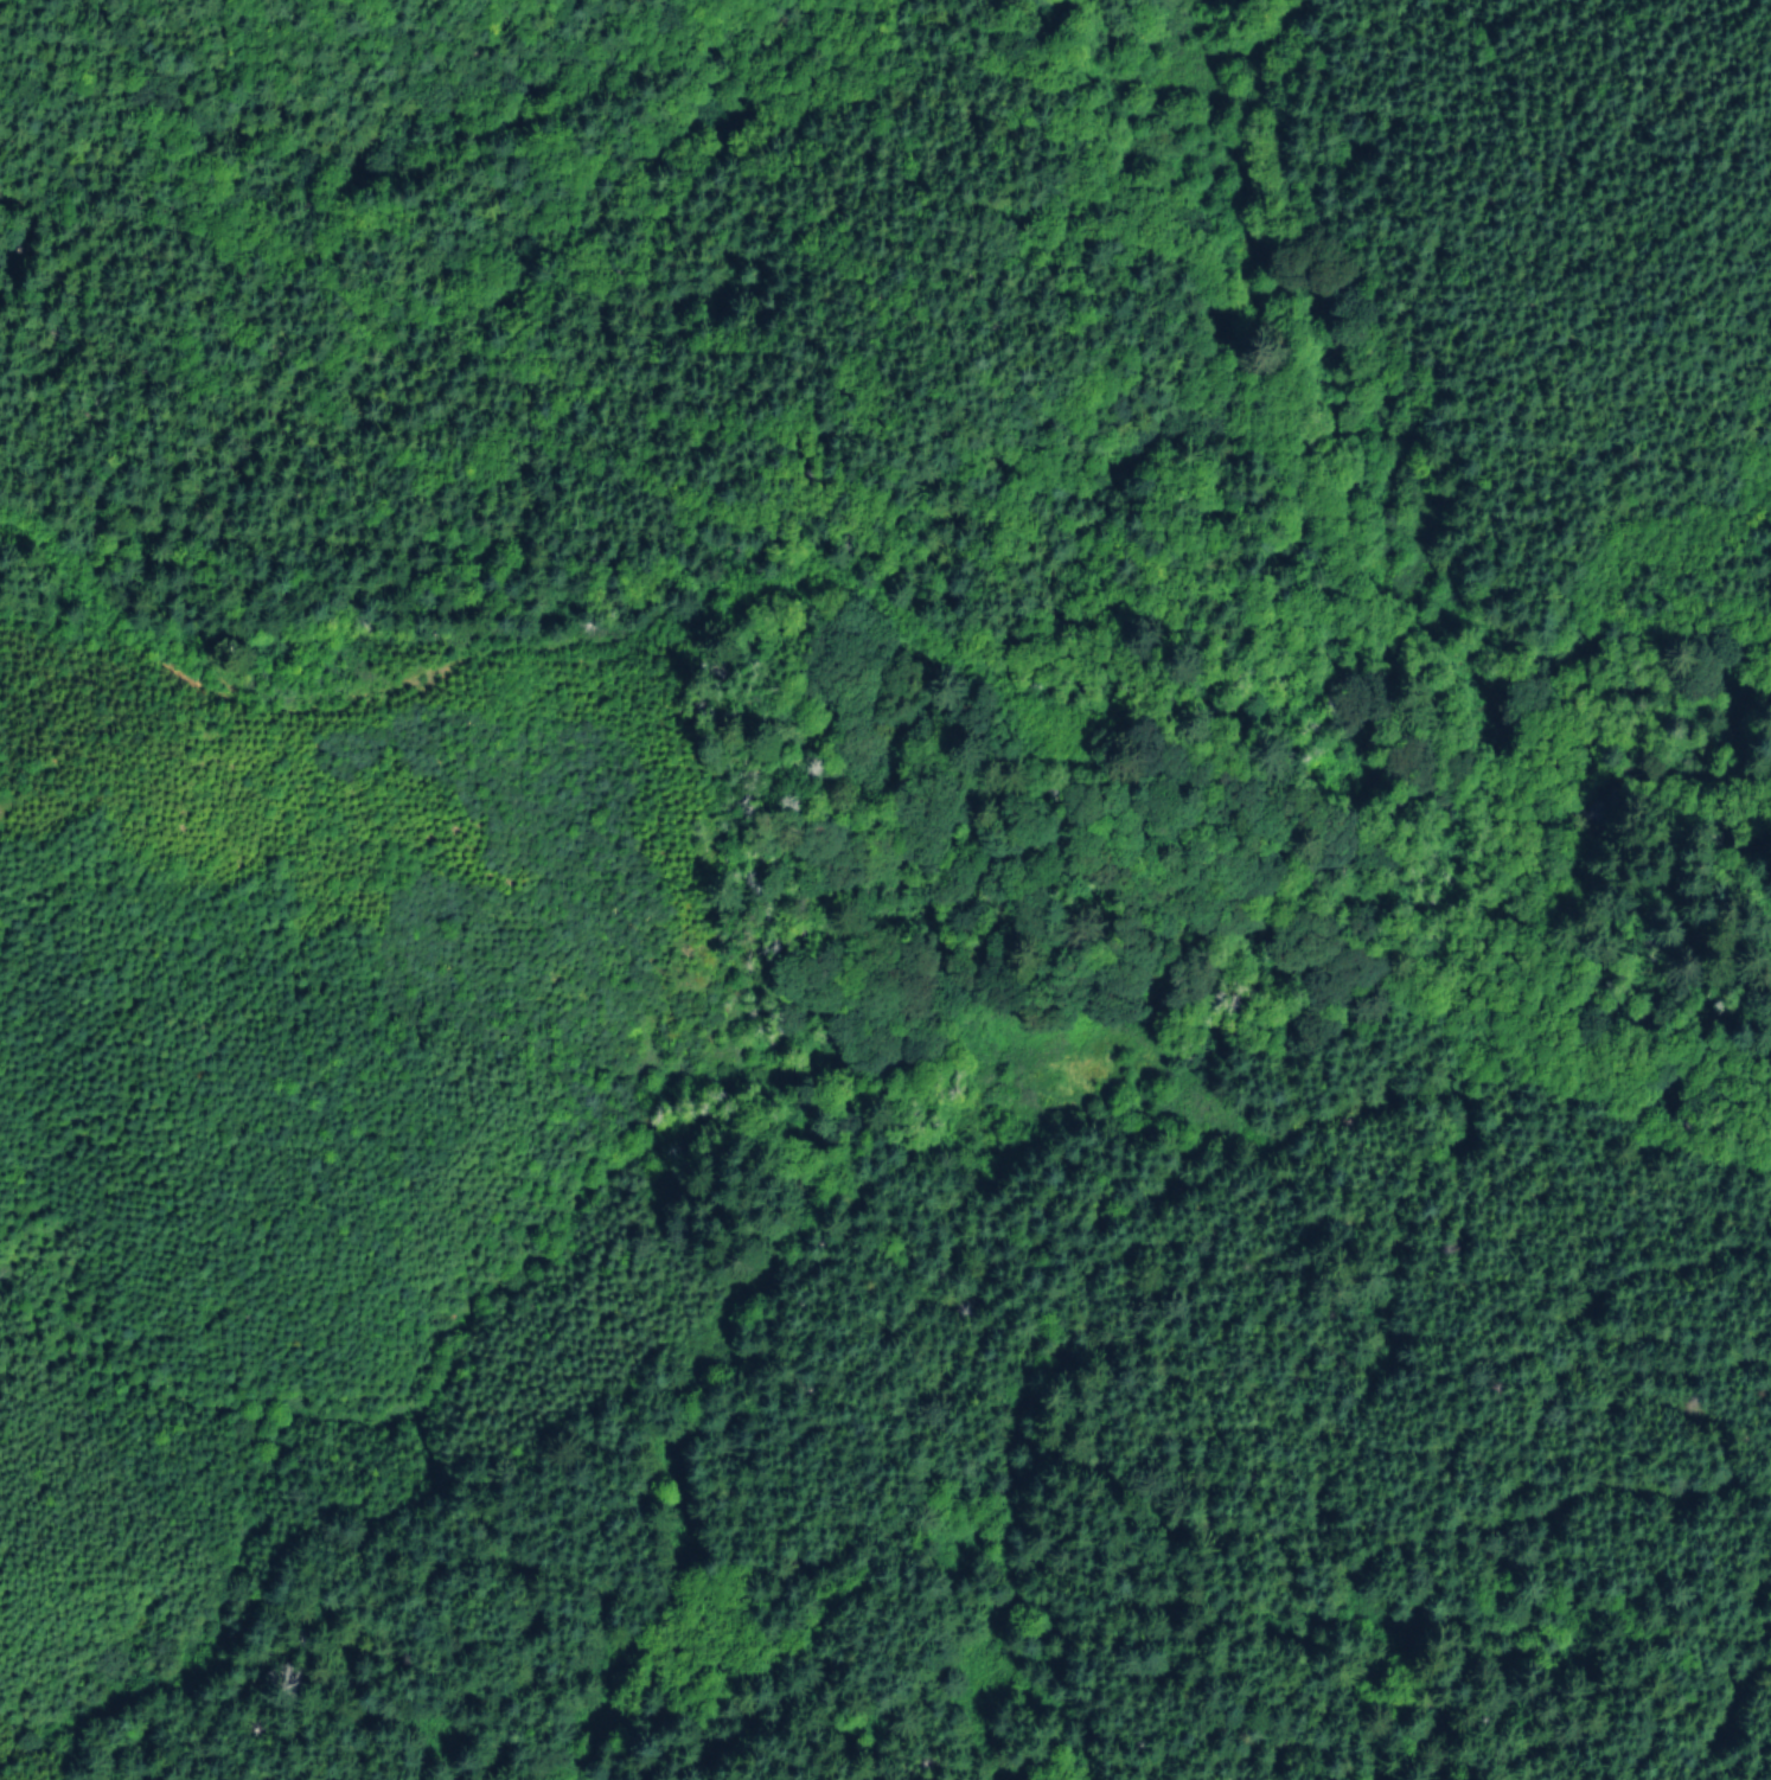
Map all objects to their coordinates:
road: (1536, 1509)

